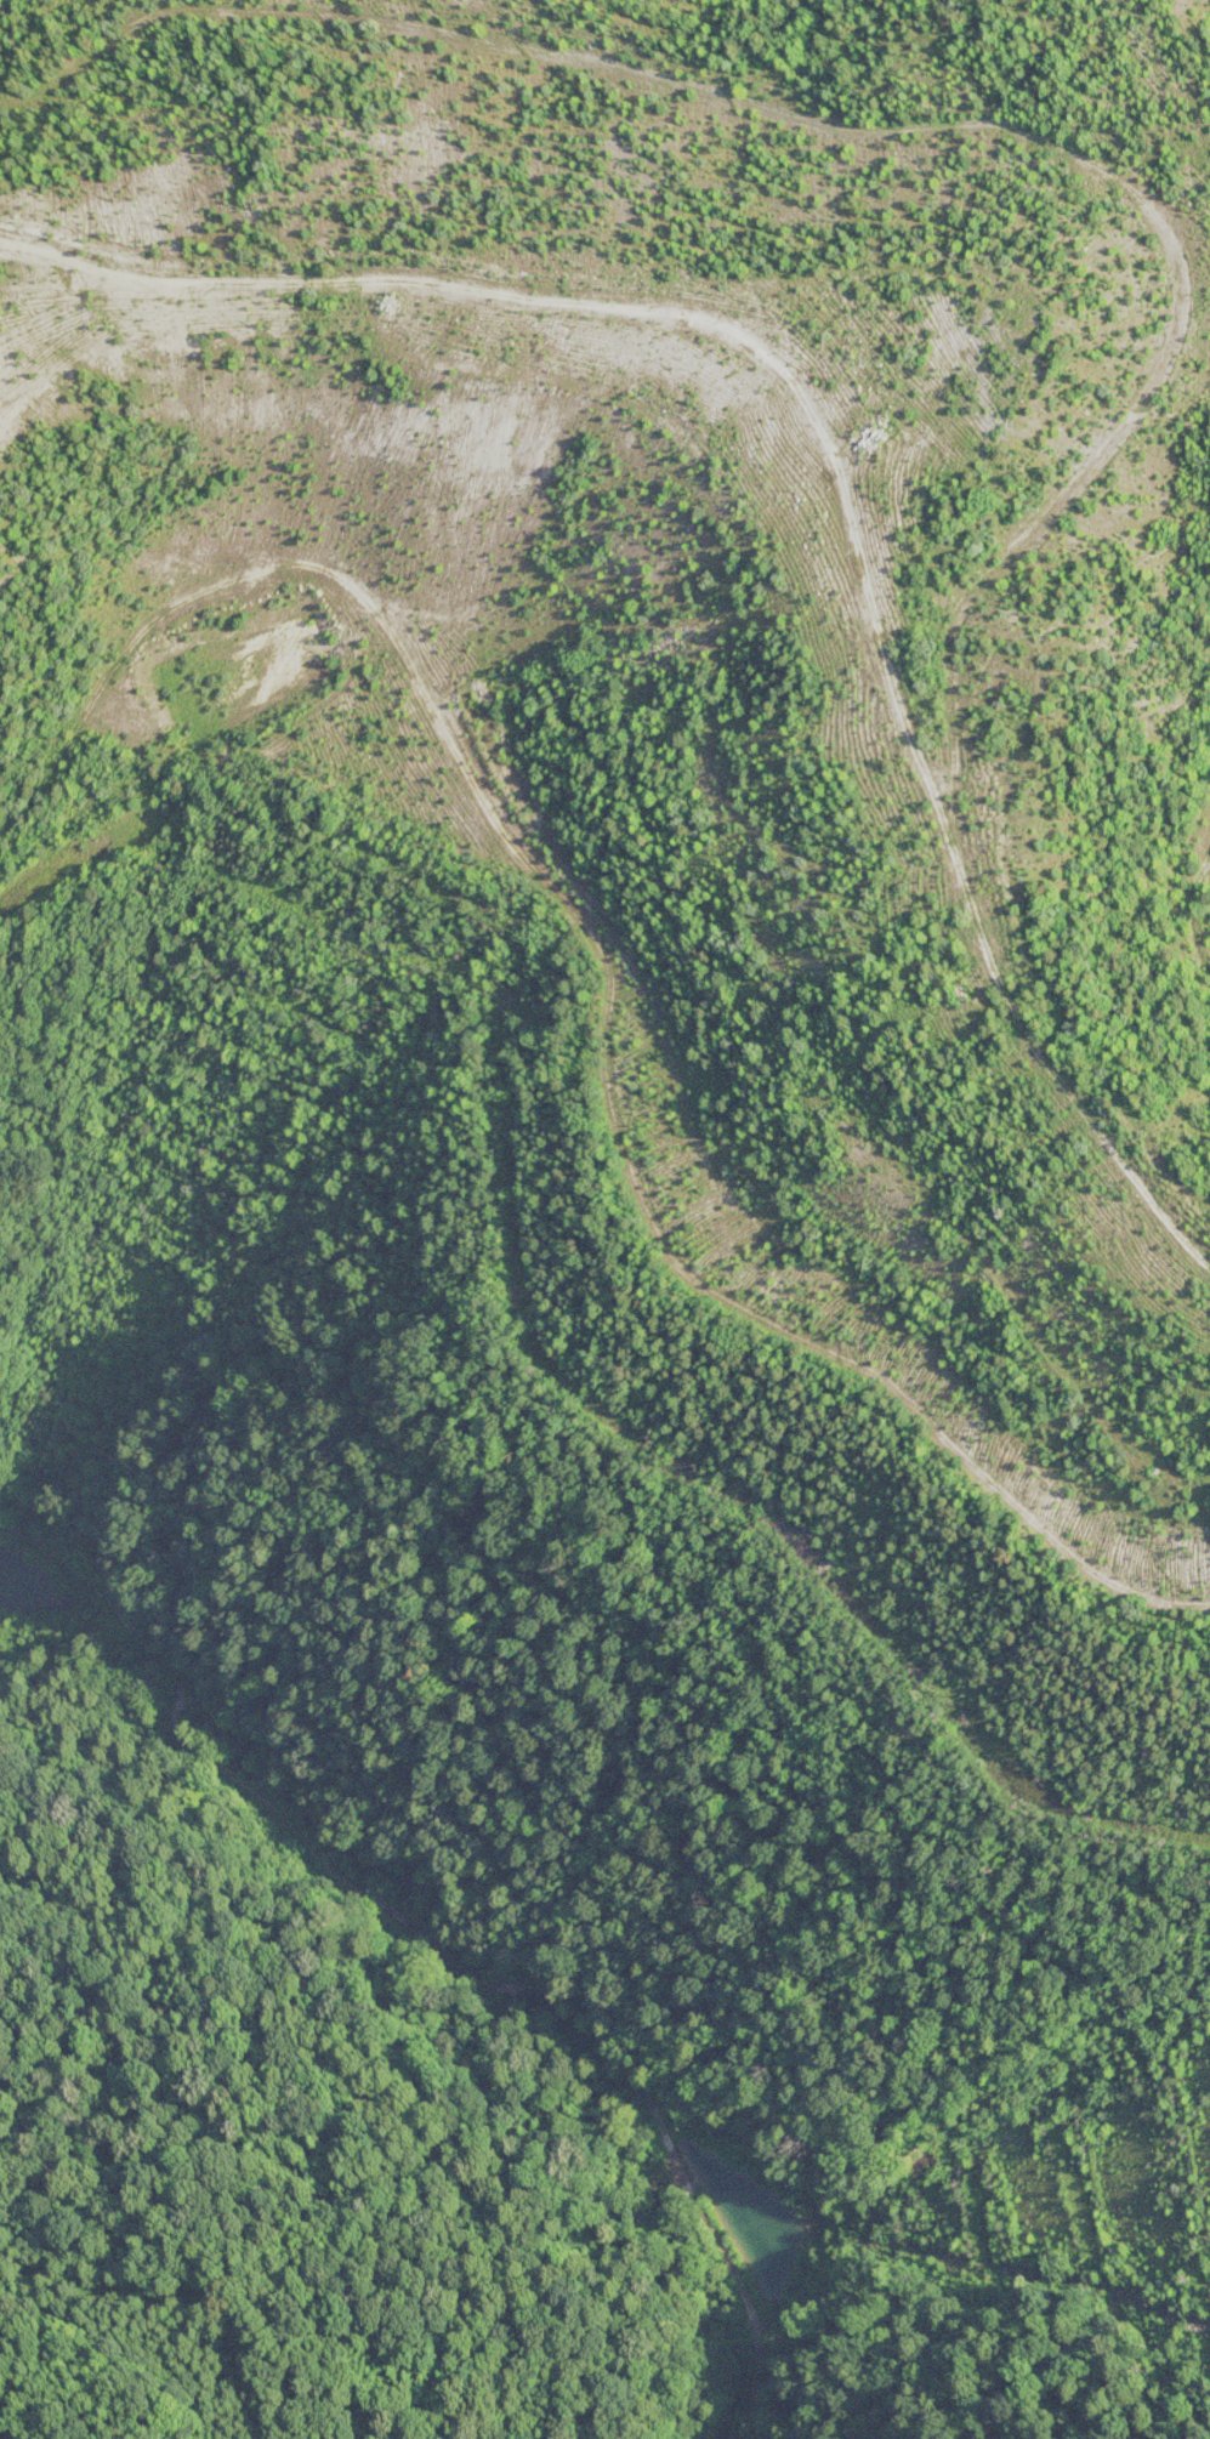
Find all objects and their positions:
quarry: (692, 622)

